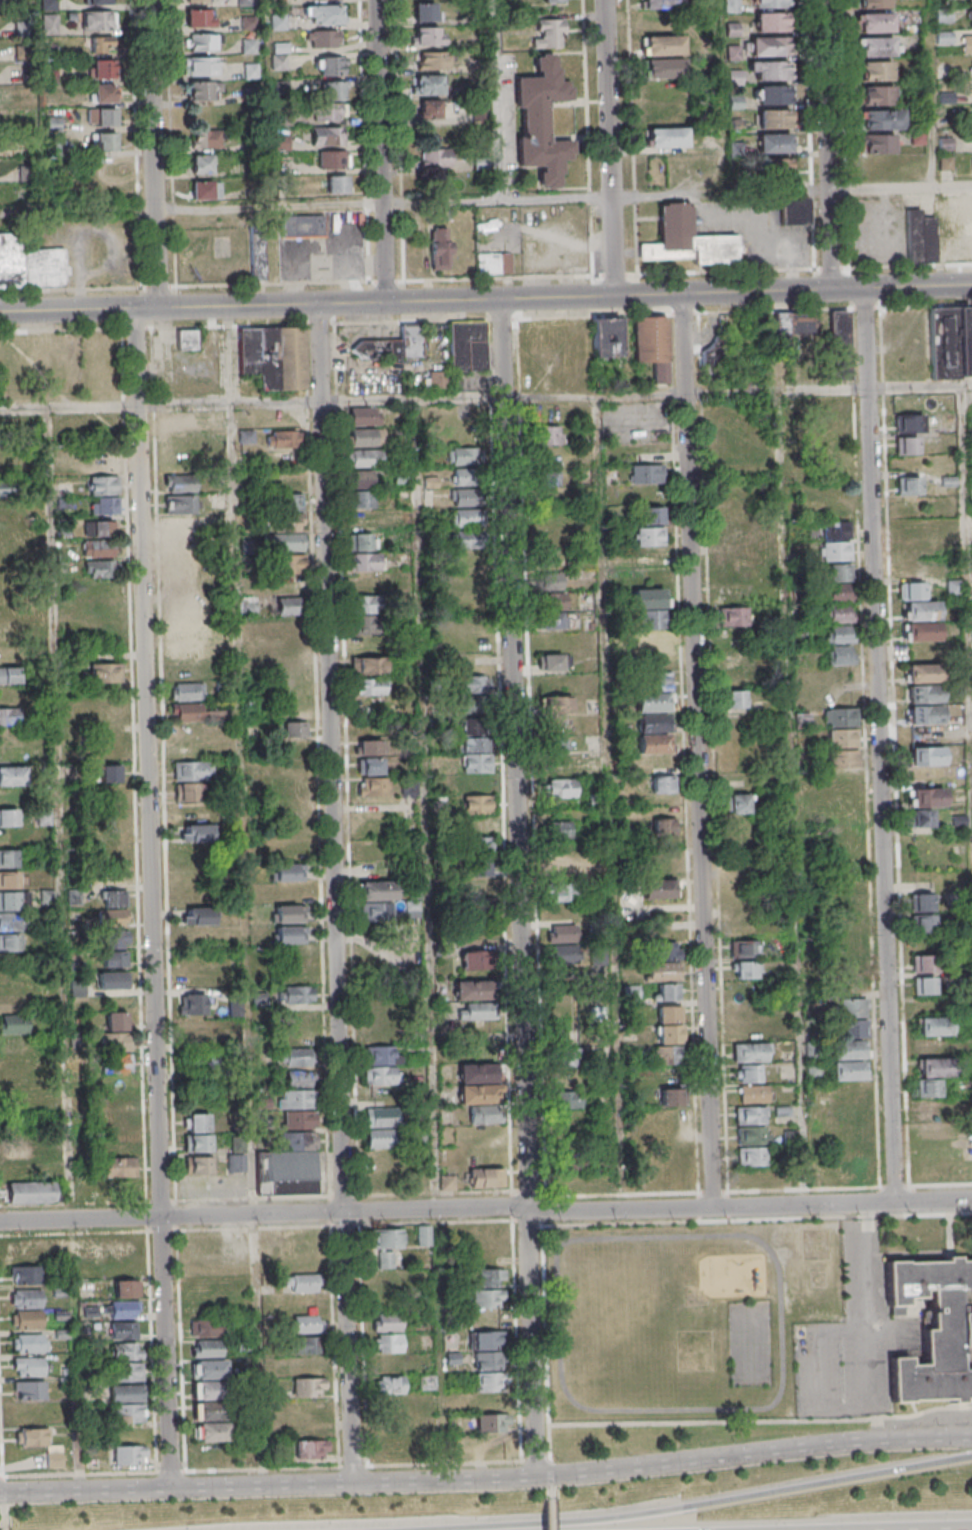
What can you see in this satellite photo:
building: (330, 0)
building: (200, 1)
building: (552, 1)
building: (970, 1)
building: (101, 3)
building: (251, 3)
building: (280, 4)
building: (773, 4)
building: (877, 4)
building: (664, 5)
building: (735, 6)
building: (424, 11)
building: (945, 15)
building: (331, 16)
building: (969, 19)
building: (200, 20)
building: (100, 22)
building: (49, 23)
building: (281, 23)
building: (251, 24)
building: (774, 24)
building: (879, 24)
building: (735, 30)
building: (548, 33)
building: (428, 36)
building: (323, 38)
building: (945, 39)
building: (205, 44)
building: (968, 45)
building: (105, 47)
building: (252, 47)
building: (667, 48)
building: (772, 48)
building: (880, 48)
building: (737, 53)
building: (432, 60)
building: (281, 63)
building: (204, 68)
building: (333, 68)
building: (105, 71)
building: (668, 71)
building: (254, 72)
building: (775, 73)
building: (879, 73)
building: (737, 78)
building: (431, 87)
building: (283, 88)
building: (333, 90)
building: (920, 92)
building: (203, 93)
building: (106, 95)
building: (775, 96)
building: (256, 97)
building: (879, 97)
road: (497, 100)
building: (738, 103)
building: (429, 108)
building: (328, 111)
building: (920, 113)
building: (108, 120)
building: (776, 121)
building: (885, 122)
building: (544, 123)
building: (738, 127)
building: (334, 138)
building: (205, 139)
building: (920, 139)
building: (670, 140)
building: (109, 144)
road: (139, 144)
building: (284, 144)
building: (776, 145)
road: (830, 145)
building: (947, 145)
building: (882, 146)
road: (613, 148)
road: (384, 151)
building: (739, 151)
road: (157, 153)
building: (337, 161)
building: (433, 161)
road: (591, 161)
building: (201, 163)
building: (948, 164)
building: (777, 170)
building: (336, 184)
road: (902, 189)
building: (205, 190)
road: (495, 201)
road: (79, 211)
building: (794, 213)
building: (302, 226)
building: (940, 231)
building: (687, 240)
building: (439, 248)
building: (257, 258)
building: (492, 263)
building: (30, 264)
road: (668, 274)
road: (388, 282)
road: (486, 299)
building: (820, 334)
building: (606, 338)
building: (186, 339)
building: (950, 342)
building: (652, 344)
building: (392, 345)
building: (466, 346)
building: (717, 351)
building: (272, 356)
building: (774, 367)
building: (437, 379)
road: (648, 394)
road: (161, 405)
building: (179, 419)
building: (468, 419)
building: (907, 423)
building: (365, 426)
building: (826, 426)
building: (548, 435)
building: (246, 436)
building: (282, 439)
building: (182, 442)
building: (906, 445)
building: (465, 456)
building: (363, 458)
building: (646, 473)
building: (467, 477)
building: (544, 477)
building: (361, 478)
building: (282, 479)
building: (179, 483)
building: (909, 485)
building: (104, 495)
building: (467, 497)
building: (361, 499)
building: (63, 502)
building: (180, 504)
road: (968, 504)
building: (4, 509)
building: (836, 511)
building: (652, 515)
building: (465, 517)
building: (361, 520)
building: (285, 524)
building: (99, 528)
building: (836, 530)
building: (729, 533)
building: (648, 536)
building: (549, 538)
building: (466, 539)
building: (362, 541)
building: (98, 548)
building: (835, 551)
building: (649, 558)
building: (365, 562)
building: (285, 564)
building: (551, 564)
building: (100, 569)
building: (841, 572)
building: (548, 580)
building: (466, 581)
building: (841, 593)
building: (732, 596)
building: (551, 601)
building: (248, 603)
building: (291, 605)
building: (367, 605)
building: (841, 613)
building: (918, 614)
building: (733, 616)
building: (650, 618)
building: (550, 621)
building: (367, 623)
building: (290, 627)
building: (185, 629)
building: (842, 634)
building: (7, 635)
building: (368, 645)
building: (184, 650)
building: (842, 654)
building: (734, 658)
building: (553, 663)
building: (369, 666)
building: (293, 668)
building: (105, 673)
building: (922, 673)
building: (9, 675)
building: (473, 685)
building: (369, 686)
building: (187, 691)
building: (923, 694)
building: (735, 698)
building: (556, 705)
building: (652, 711)
building: (197, 713)
building: (924, 714)
building: (9, 716)
building: (295, 729)
building: (188, 733)
building: (472, 735)
building: (842, 738)
building: (554, 745)
road: (882, 745)
building: (370, 747)
road: (700, 749)
building: (110, 753)
road: (515, 755)
building: (926, 757)
building: (475, 763)
building: (593, 763)
building: (371, 766)
building: (558, 767)
building: (192, 770)
building: (110, 773)
building: (12, 776)
building: (662, 784)
building: (373, 787)
building: (407, 787)
building: (558, 788)
building: (287, 790)
building: (188, 792)
building: (7, 797)
road: (796, 798)
building: (739, 803)
building: (924, 805)
building: (116, 814)
building: (8, 817)
building: (476, 823)
building: (664, 827)
building: (558, 830)
building: (198, 833)
building: (564, 849)
building: (9, 862)
building: (477, 870)
building: (567, 871)
building: (288, 872)
building: (10, 883)
building: (657, 889)
building: (565, 892)
road: (339, 893)
building: (114, 898)
road: (156, 898)
building: (376, 901)
building: (923, 902)
building: (11, 903)
building: (289, 913)
building: (471, 914)
building: (200, 916)
building: (112, 917)
building: (13, 922)
building: (923, 923)
building: (744, 928)
building: (290, 934)
road: (431, 940)
building: (564, 943)
building: (11, 945)
road: (246, 945)
building: (114, 948)
building: (744, 948)
road: (62, 950)
building: (475, 959)
building: (663, 962)
building: (920, 963)
building: (851, 967)
building: (747, 970)
building: (112, 980)
building: (924, 985)
building: (473, 990)
building: (668, 992)
building: (298, 994)
building: (194, 1004)
building: (478, 1011)
building: (116, 1021)
building: (669, 1024)
building: (16, 1027)
building: (200, 1034)
building: (933, 1036)
building: (115, 1041)
building: (851, 1043)
building: (751, 1052)
building: (581, 1055)
building: (665, 1055)
building: (299, 1057)
building: (116, 1063)
building: (380, 1064)
building: (202, 1065)
building: (934, 1068)
building: (477, 1073)
building: (750, 1073)
building: (299, 1078)
building: (569, 1080)
building: (928, 1087)
building: (754, 1094)
building: (673, 1096)
building: (573, 1099)
building: (262, 1102)
building: (481, 1103)
building: (116, 1104)
building: (927, 1109)
building: (381, 1116)
building: (198, 1122)
building: (752, 1125)
building: (380, 1138)
building: (198, 1143)
building: (21, 1148)
building: (291, 1148)
building: (576, 1154)
building: (751, 1156)
building: (236, 1162)
building: (199, 1164)
building: (119, 1167)
building: (934, 1171)
building: (486, 1177)
building: (447, 1182)
building: (30, 1191)
road: (486, 1211)
building: (424, 1235)
building: (386, 1245)
building: (24, 1250)
building: (25, 1274)
building: (488, 1277)
building: (388, 1281)
building: (302, 1283)
building: (125, 1289)
building: (25, 1298)
building: (487, 1298)
building: (123, 1309)
building: (25, 1319)
road: (872, 1321)
building: (387, 1322)
building: (307, 1324)
building: (204, 1328)
building: (933, 1329)
building: (122, 1330)
building: (28, 1342)
building: (387, 1343)
road: (530, 1343)
building: (304, 1345)
building: (205, 1348)
building: (489, 1350)
building: (124, 1351)
building: (388, 1364)
building: (26, 1366)
building: (308, 1366)
building: (206, 1368)
building: (125, 1372)
building: (389, 1384)
building: (307, 1387)
building: (27, 1390)
building: (206, 1390)
building: (126, 1403)
road: (594, 1409)
building: (207, 1411)
building: (491, 1414)
building: (208, 1432)
building: (40, 1445)
building: (391, 1446)
building: (309, 1449)
road: (752, 1454)
building: (126, 1455)
road: (551, 1466)
road: (275, 1467)
road: (445, 1480)
road: (178, 1488)
road: (0, 1499)
road: (551, 1502)
road: (712, 1504)
road: (0, 1513)
road: (0, 1526)

